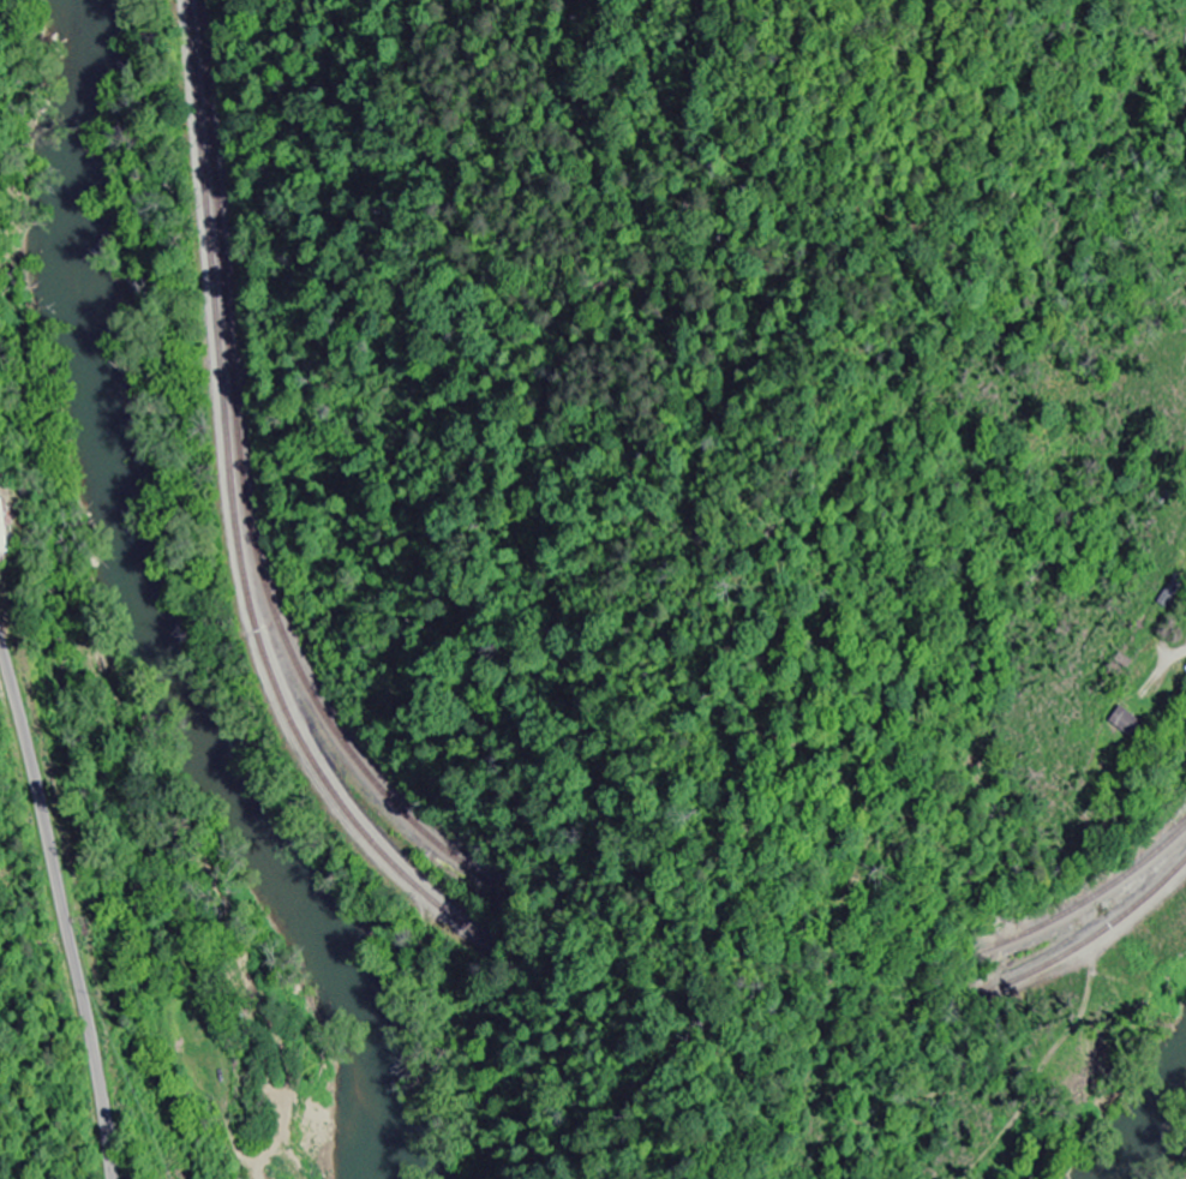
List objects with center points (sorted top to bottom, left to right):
river: (94, 283)
building: (5, 529)
building: (1124, 723)
railway: (390, 845)
railway: (379, 852)
river: (281, 867)
road: (61, 910)
river: (1157, 1139)

